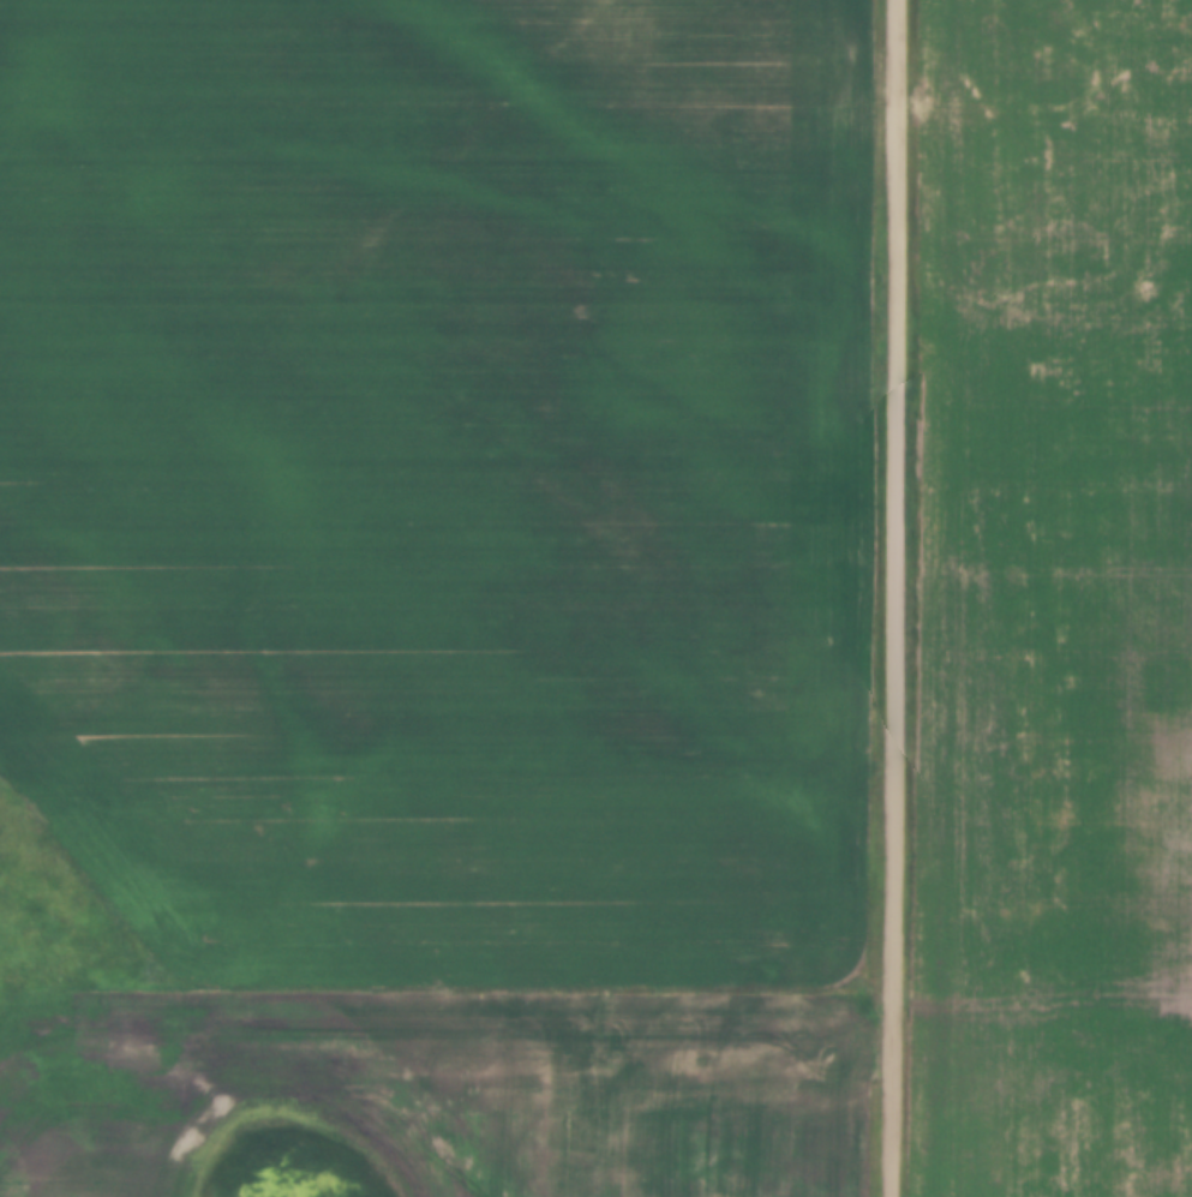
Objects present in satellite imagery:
road: (892, 598)

